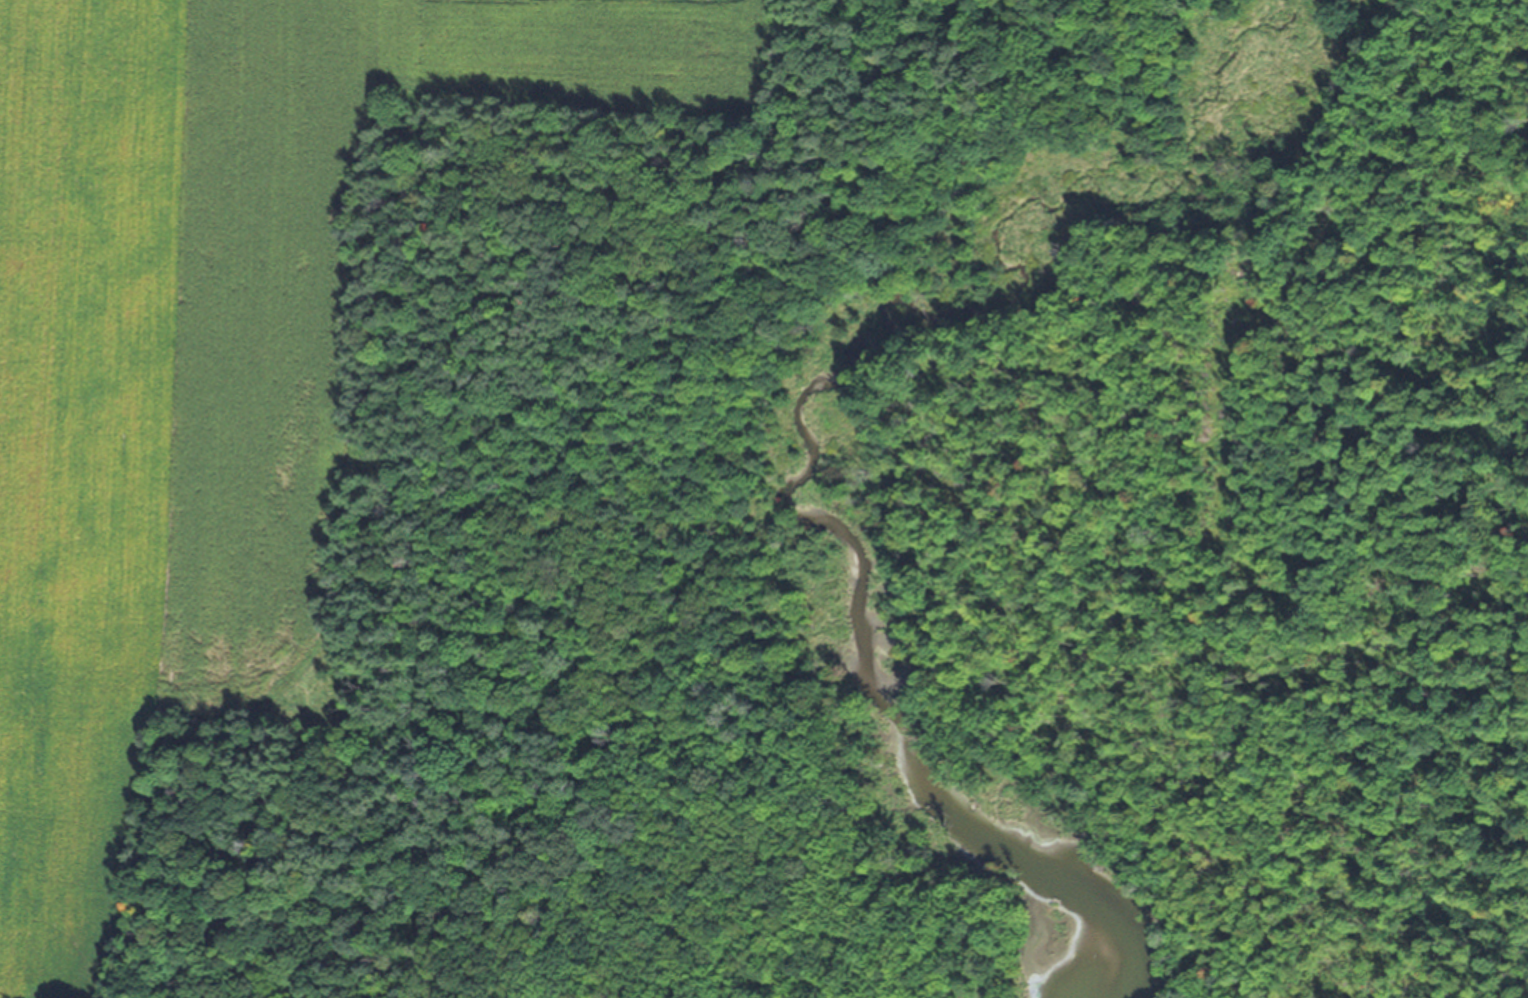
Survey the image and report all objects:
crop: (217, 366)

